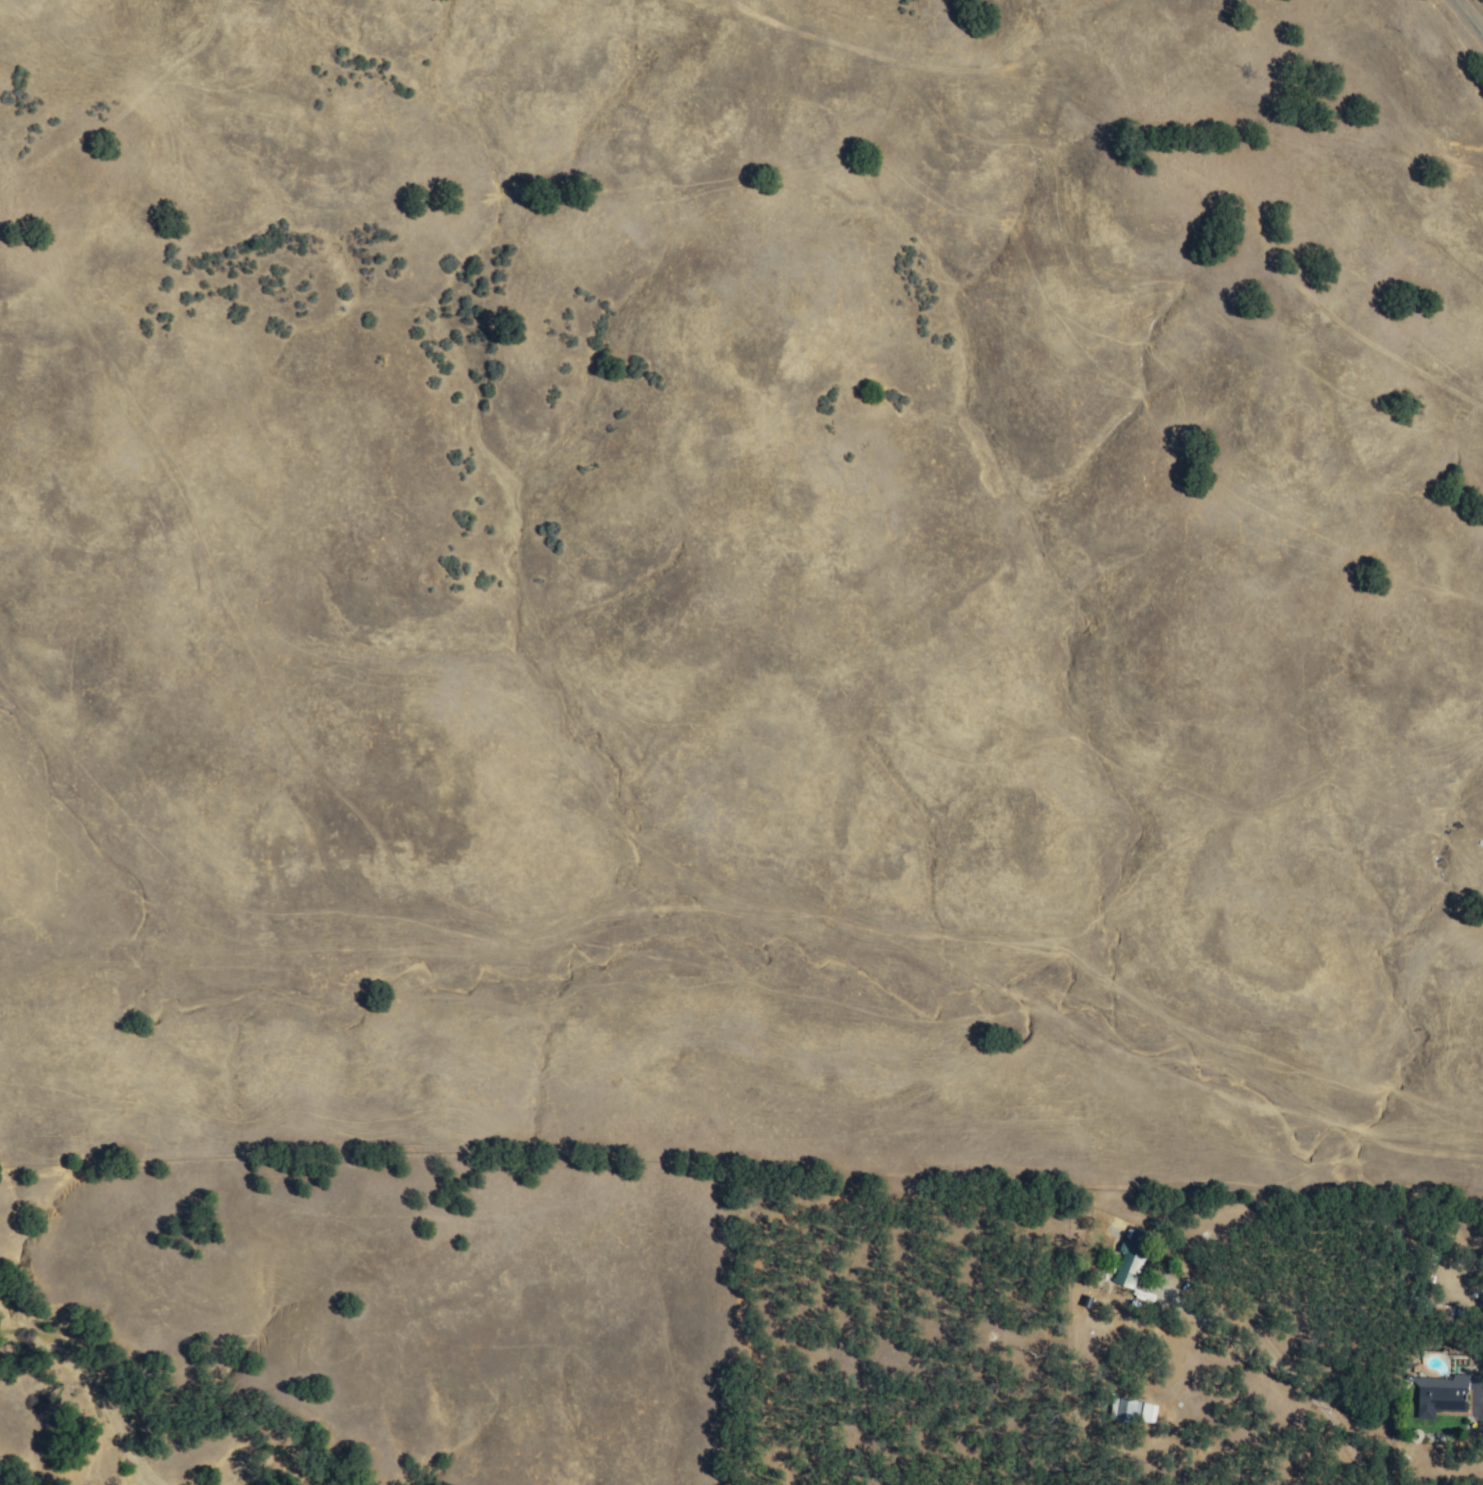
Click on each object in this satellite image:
road: (1468, 17)
building: (1131, 1258)
building: (1455, 1313)
building: (1439, 1396)
building: (1135, 1412)
road: (1366, 1477)

